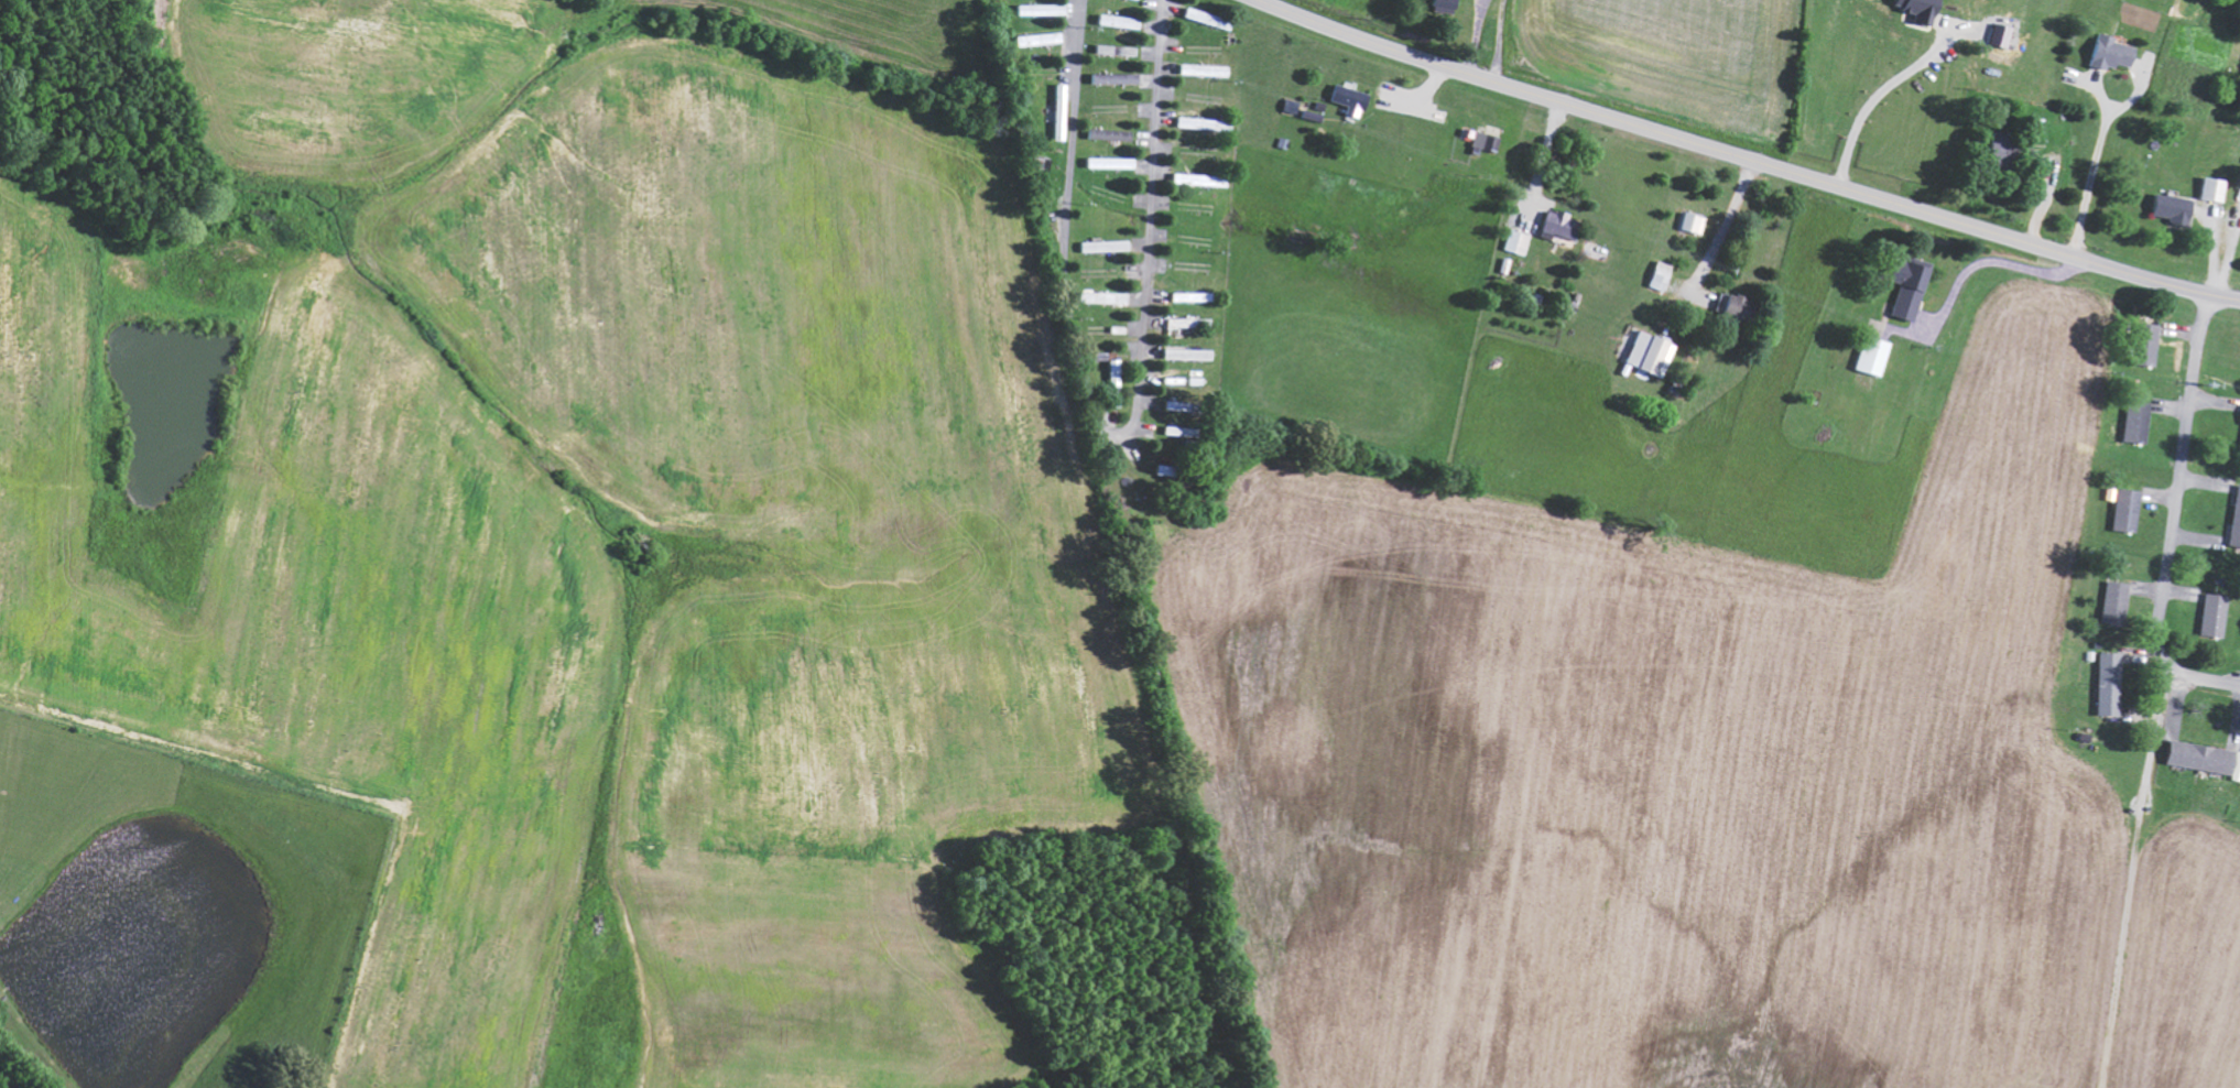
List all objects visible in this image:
building: (1913, 9)
road: (553, 13)
building: (1208, 18)
building: (1997, 35)
building: (1043, 39)
road: (847, 42)
building: (1108, 48)
building: (1130, 50)
building: (2105, 53)
building: (1207, 69)
building: (1118, 78)
building: (1347, 99)
building: (1198, 123)
building: (1483, 141)
building: (1993, 148)
road: (1748, 157)
building: (1114, 163)
building: (2209, 189)
building: (2165, 208)
building: (1555, 224)
building: (1690, 224)
building: (1515, 242)
building: (1109, 246)
building: (1657, 275)
building: (1902, 289)
building: (1194, 296)
building: (1730, 306)
building: (1189, 323)
building: (2142, 344)
building: (1189, 353)
building: (1646, 355)
building: (1868, 356)
building: (1117, 373)
building: (2132, 421)
building: (2238, 429)
road: (1112, 434)
building: (1172, 470)
building: (2120, 511)
building: (2232, 516)
road: (2171, 520)
building: (2110, 601)
building: (2208, 616)
building: (2105, 684)
building: (2194, 758)

